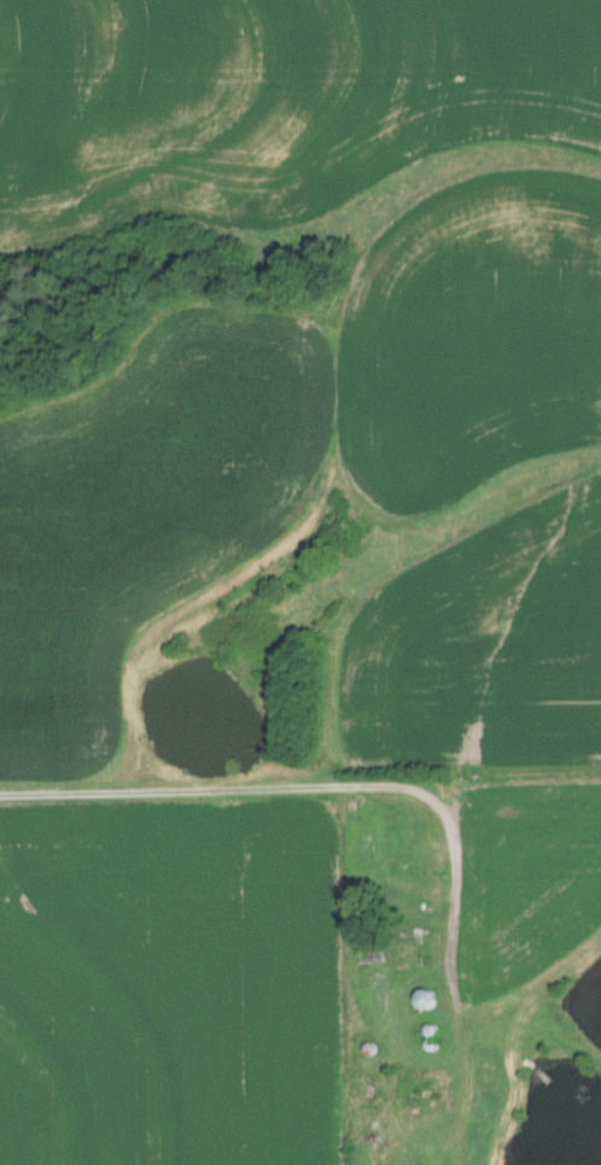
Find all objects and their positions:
road: (280, 790)
building: (424, 997)
building: (426, 1084)

